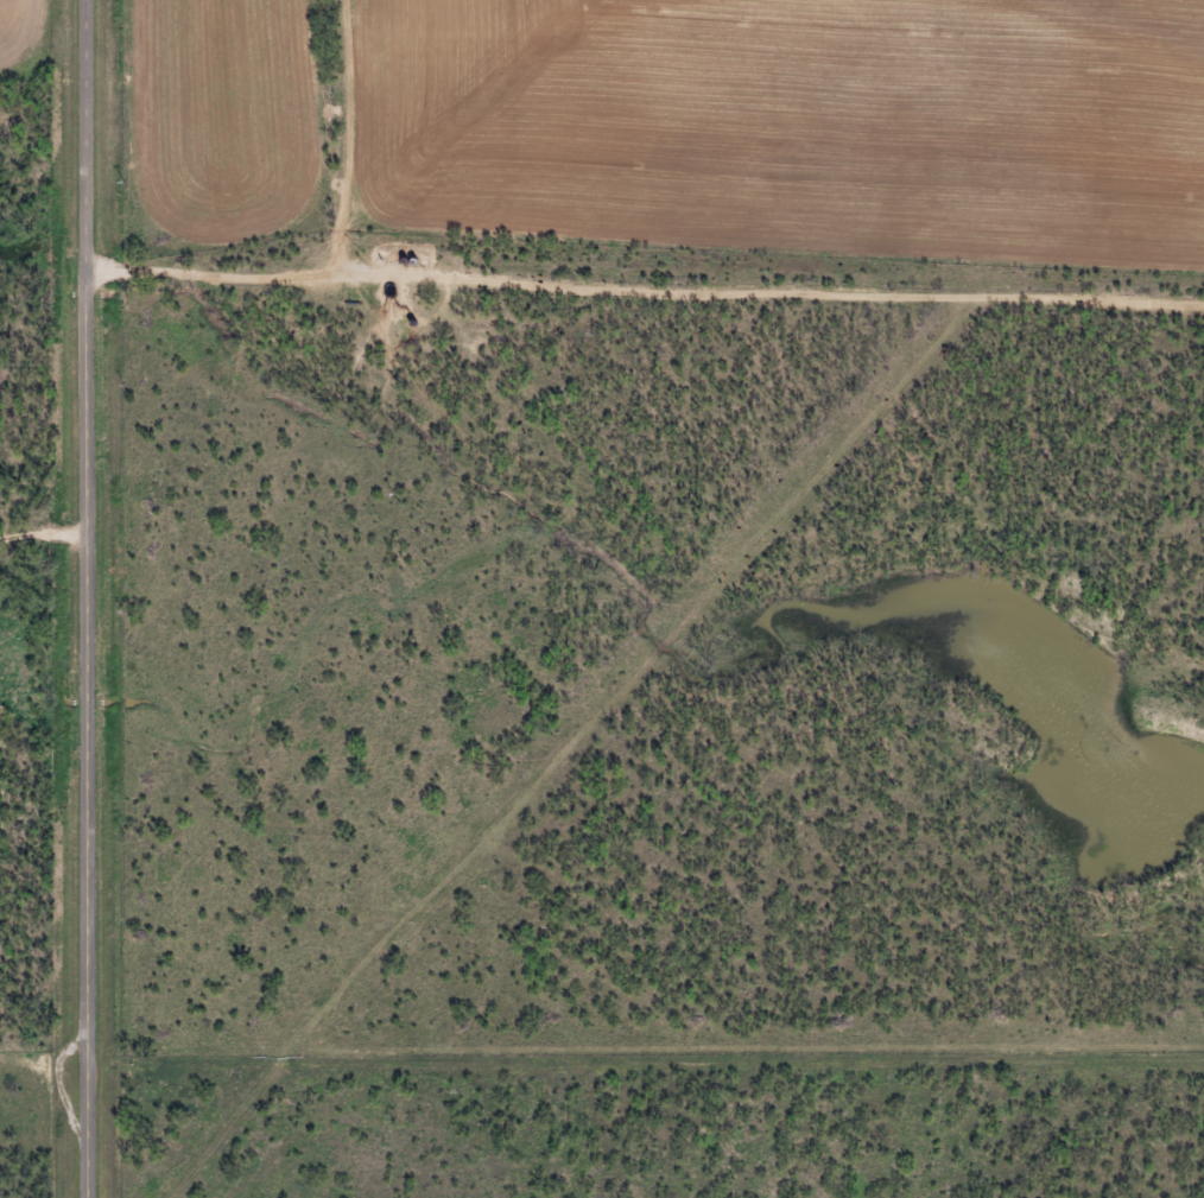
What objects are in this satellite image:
road: (356, 151)
road: (645, 302)
road: (37, 541)
road: (75, 598)

